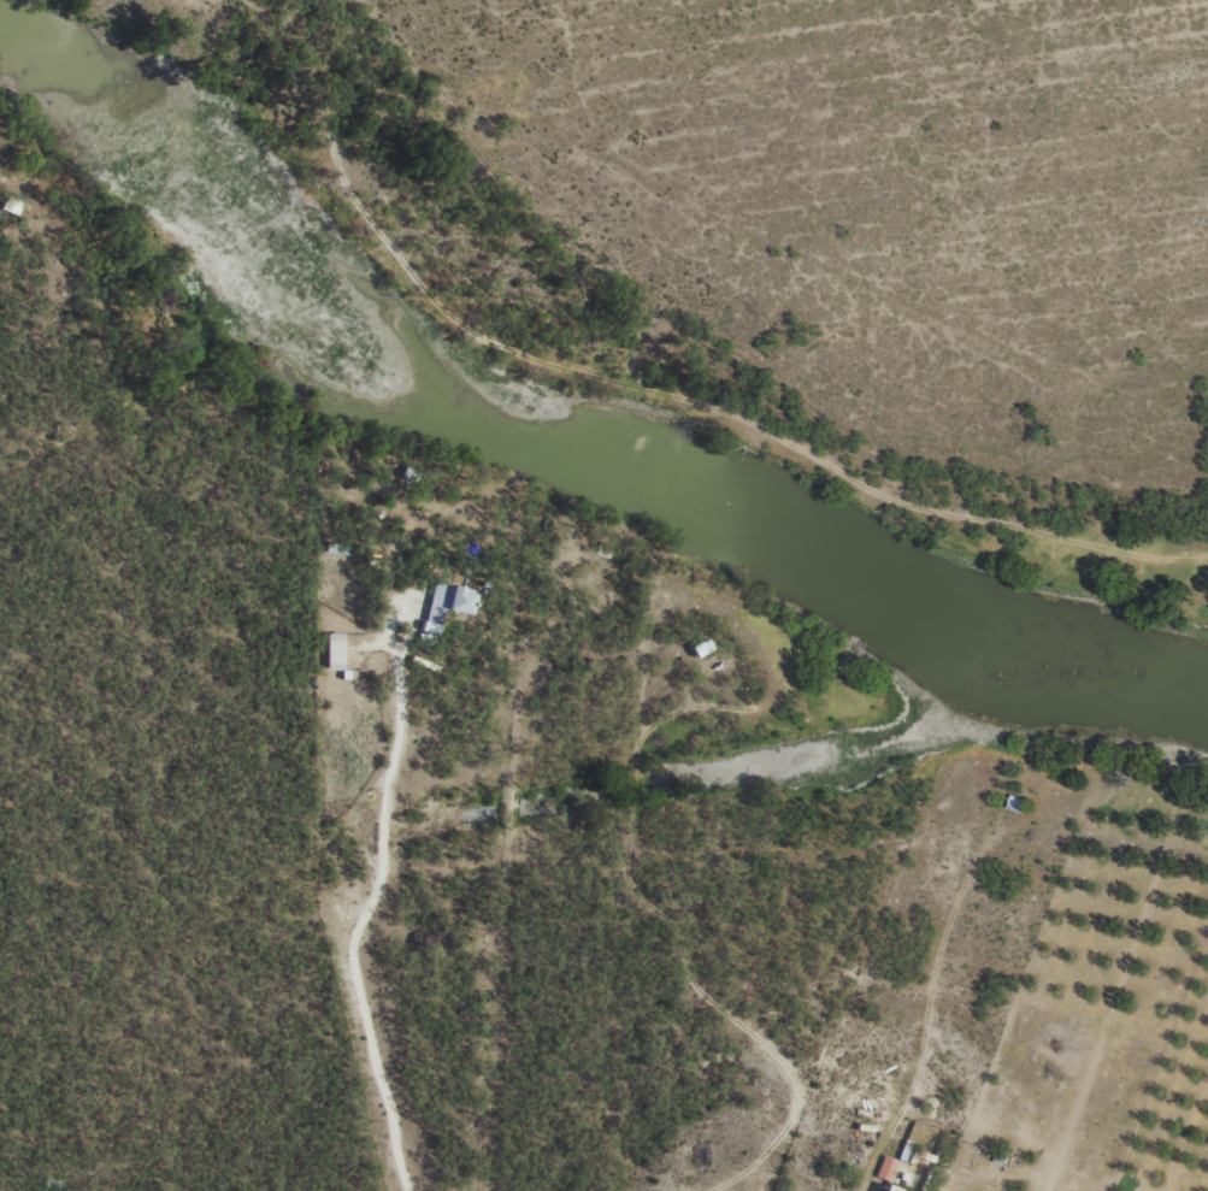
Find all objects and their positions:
road: (717, 284)
river: (550, 456)
building: (444, 602)
building: (697, 647)
building: (331, 650)
road: (124, 1097)
building: (903, 1149)
building: (884, 1167)
building: (884, 1189)

